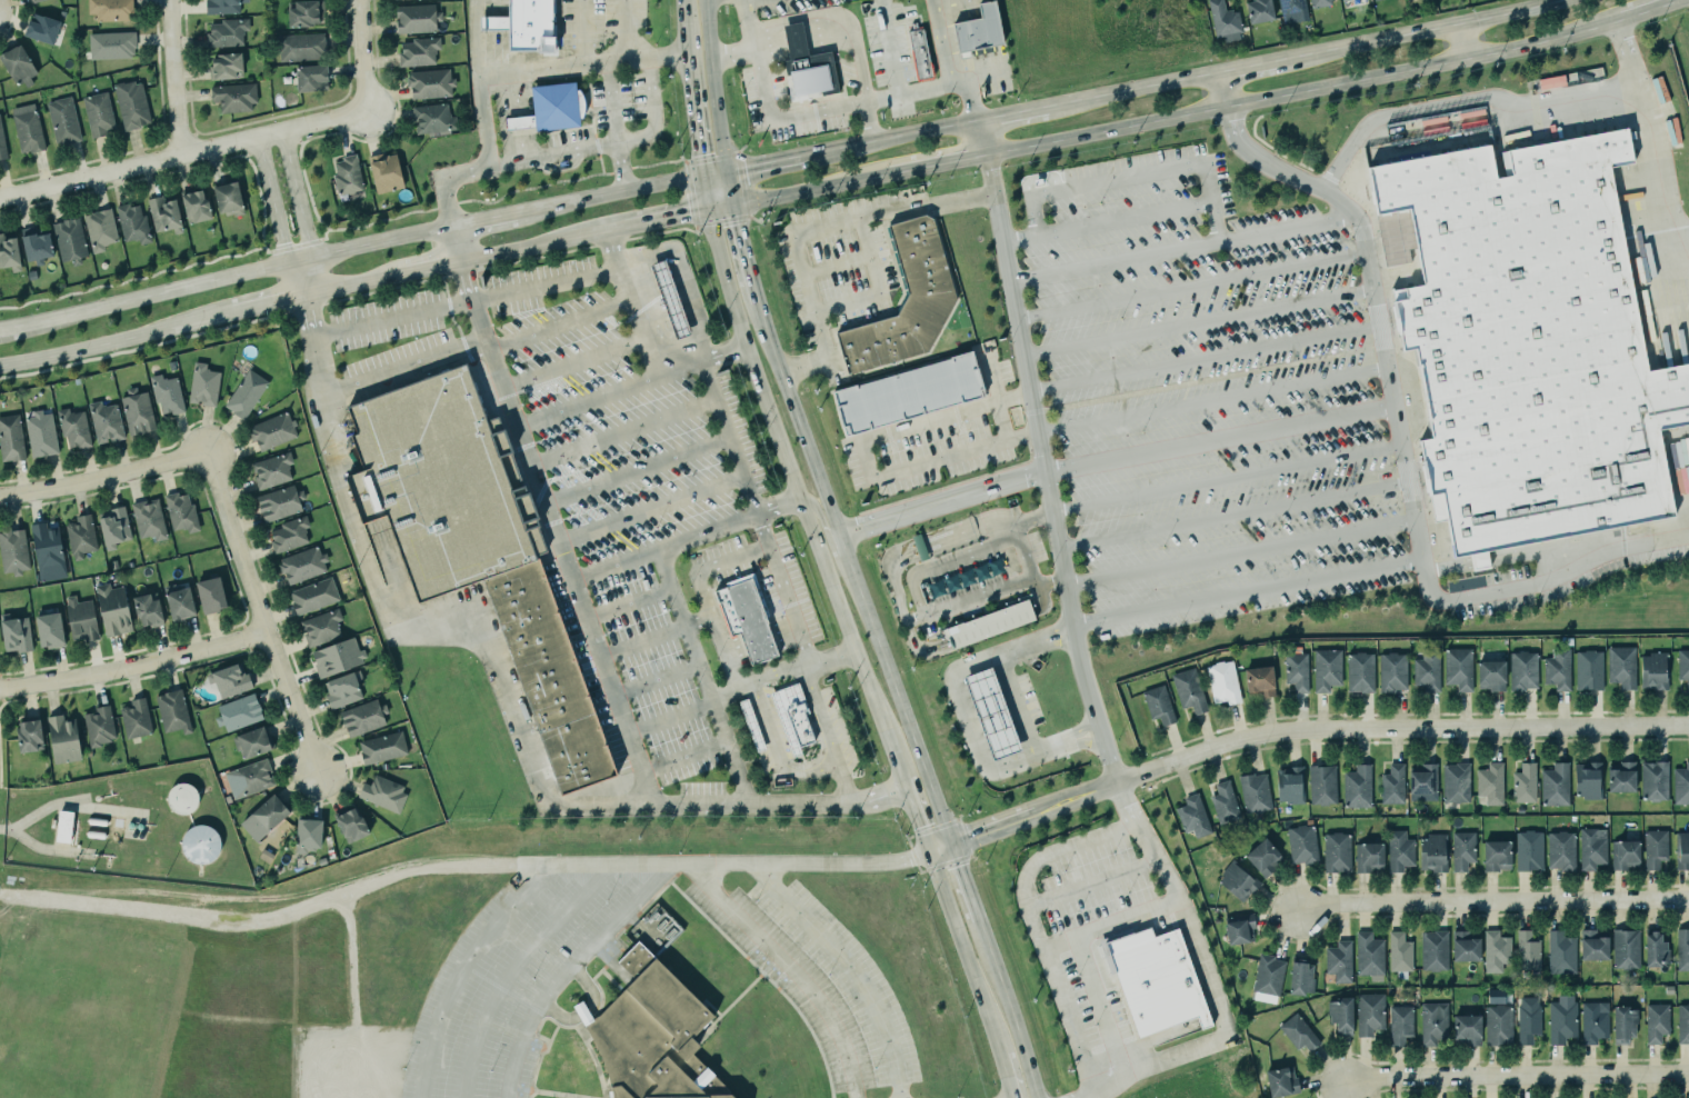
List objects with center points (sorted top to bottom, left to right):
building: (36, 0)
building: (1345, 0)
building: (1375, 0)
building: (1319, 2)
building: (223, 6)
road: (1648, 9)
building: (111, 10)
building: (1259, 10)
building: (1292, 10)
building: (302, 12)
building: (417, 18)
building: (1225, 20)
building: (493, 22)
building: (529, 24)
road: (834, 26)
building: (41, 28)
building: (976, 29)
road: (622, 31)
building: (227, 32)
road: (580, 33)
road: (494, 38)
road: (684, 41)
road: (1460, 41)
building: (112, 44)
road: (749, 46)
building: (301, 47)
building: (417, 50)
building: (918, 52)
road: (359, 54)
road: (1303, 54)
building: (18, 64)
building: (226, 66)
road: (580, 66)
road: (945, 68)
building: (810, 72)
road: (986, 73)
road: (170, 77)
building: (310, 78)
building: (429, 82)
road: (476, 83)
road: (712, 87)
road: (1220, 90)
road: (1303, 90)
building: (233, 96)
road: (1461, 103)
building: (131, 104)
building: (554, 104)
building: (98, 112)
road: (1011, 114)
road: (780, 116)
building: (431, 117)
road: (519, 117)
building: (63, 121)
road: (868, 121)
building: (27, 127)
road: (612, 130)
road: (1656, 133)
road: (980, 138)
road: (889, 139)
building: (1, 142)
road: (697, 147)
road: (180, 151)
road: (553, 154)
road: (946, 163)
road: (752, 168)
building: (383, 171)
traffic signals: (727, 173)
building: (347, 176)
road: (1136, 178)
traffic signals: (703, 179)
road: (820, 188)
road: (614, 197)
building: (228, 199)
building: (196, 206)
traffic signals: (733, 206)
road: (721, 209)
road: (298, 212)
traffic signals: (709, 212)
building: (163, 213)
road: (892, 214)
road: (272, 218)
road: (668, 220)
road: (1105, 222)
building: (132, 223)
road: (488, 224)
building: (100, 229)
road: (738, 229)
building: (69, 239)
building: (36, 244)
road: (542, 246)
road: (454, 248)
road: (1179, 249)
building: (9, 253)
road: (837, 266)
road: (424, 270)
road: (234, 278)
road: (682, 283)
road: (347, 287)
road: (1189, 287)
road: (877, 289)
road: (754, 292)
building: (670, 301)
building: (907, 302)
road: (464, 303)
road: (261, 307)
road: (814, 309)
road: (760, 310)
road: (1197, 322)
road: (558, 326)
road: (10, 330)
road: (110, 343)
building: (1528, 343)
road: (648, 347)
road: (1203, 360)
road: (572, 365)
road: (806, 368)
road: (403, 369)
road: (1207, 380)
building: (203, 385)
building: (243, 392)
building: (167, 393)
building: (908, 393)
road: (993, 395)
road: (1211, 400)
road: (587, 401)
building: (136, 411)
road: (942, 417)
building: (106, 422)
building: (72, 427)
building: (270, 429)
road: (798, 429)
road: (621, 432)
building: (39, 433)
road: (727, 437)
building: (11, 438)
road: (1401, 451)
road: (1110, 459)
road: (932, 461)
building: (272, 470)
road: (1042, 470)
road: (634, 471)
building: (441, 478)
road: (103, 479)
road: (1226, 479)
road: (799, 497)
building: (278, 501)
road: (348, 505)
road: (778, 506)
road: (649, 510)
building: (181, 512)
road: (820, 515)
road: (1232, 516)
road: (1032, 518)
building: (149, 519)
building: (112, 526)
building: (289, 533)
road: (553, 535)
building: (81, 537)
building: (47, 547)
road: (662, 547)
road: (838, 547)
building: (919, 547)
building: (12, 550)
road: (1240, 553)
road: (1022, 556)
building: (302, 565)
road: (1047, 582)
road: (782, 589)
road: (1247, 592)
building: (209, 595)
building: (313, 596)
road: (701, 596)
building: (180, 602)
road: (627, 603)
building: (113, 609)
building: (146, 609)
road: (251, 618)
building: (81, 619)
building: (744, 619)
road: (697, 622)
building: (989, 622)
building: (320, 626)
building: (49, 630)
building: (14, 633)
road: (640, 641)
road: (759, 642)
building: (336, 656)
building: (1622, 666)
building: (1683, 666)
building: (1556, 668)
road: (129, 669)
building: (543, 669)
building: (1459, 669)
building: (1326, 670)
building: (1522, 670)
building: (1589, 670)
building: (1653, 670)
building: (1297, 671)
building: (1392, 671)
building: (1427, 671)
building: (1360, 672)
road: (781, 673)
building: (1490, 675)
road: (701, 677)
building: (229, 679)
building: (1221, 681)
building: (1259, 681)
building: (341, 688)
building: (1189, 691)
road: (896, 700)
road: (1019, 703)
building: (1159, 706)
building: (170, 708)
building: (238, 712)
road: (963, 713)
building: (992, 715)
building: (361, 716)
building: (136, 718)
road: (668, 719)
building: (798, 725)
building: (99, 726)
building: (752, 729)
road: (1298, 730)
building: (27, 736)
road: (827, 736)
building: (61, 738)
building: (253, 741)
building: (381, 747)
road: (774, 752)
road: (681, 757)
building: (249, 778)
building: (1621, 778)
building: (1423, 780)
building: (1588, 781)
building: (1655, 781)
building: (1456, 783)
building: (1525, 783)
building: (1321, 785)
building: (1491, 785)
building: (1392, 786)
building: (1555, 786)
building: (1680, 786)
building: (1291, 787)
building: (1357, 787)
building: (382, 792)
building: (1255, 792)
building: (182, 798)
building: (1225, 803)
road: (629, 806)
road: (913, 815)
building: (264, 817)
building: (1193, 818)
building: (351, 825)
building: (64, 826)
road: (4, 829)
road: (9, 830)
building: (306, 834)
building: (201, 845)
building: (1302, 845)
building: (1653, 847)
building: (1592, 848)
building: (1399, 850)
building: (1462, 850)
building: (1529, 850)
building: (1559, 850)
building: (1682, 850)
building: (1335, 851)
building: (1431, 852)
building: (1623, 854)
building: (1497, 855)
building: (1263, 857)
building: (1369, 857)
road: (459, 866)
building: (1237, 879)
road: (963, 882)
road: (1091, 882)
road: (1491, 901)
road: (1031, 922)
building: (1237, 925)
road: (959, 939)
building: (1623, 942)
building: (1651, 944)
building: (1592, 945)
building: (1463, 946)
road: (1061, 947)
building: (1432, 949)
building: (1682, 949)
building: (1496, 950)
building: (1399, 951)
building: (1528, 951)
building: (1561, 952)
building: (1369, 954)
road: (1087, 960)
building: (1339, 961)
road: (511, 968)
road: (568, 969)
road: (461, 970)
road: (790, 970)
road: (848, 971)
building: (1268, 975)
building: (1155, 978)
building: (1299, 978)
road: (1207, 980)
road: (350, 997)
road: (1009, 1008)
road: (586, 1011)
building: (1370, 1014)
building: (1341, 1015)
building: (1653, 1017)
building: (1527, 1019)
building: (1562, 1019)
building: (1621, 1019)
building: (1430, 1020)
building: (1595, 1021)
building: (1682, 1022)
building: (1400, 1025)
building: (1498, 1025)
building: (1467, 1029)
building: (1297, 1032)
building: (651, 1036)
road: (394, 1061)
road: (309, 1062)
road: (1001, 1062)
road: (1515, 1076)
building: (1280, 1081)

